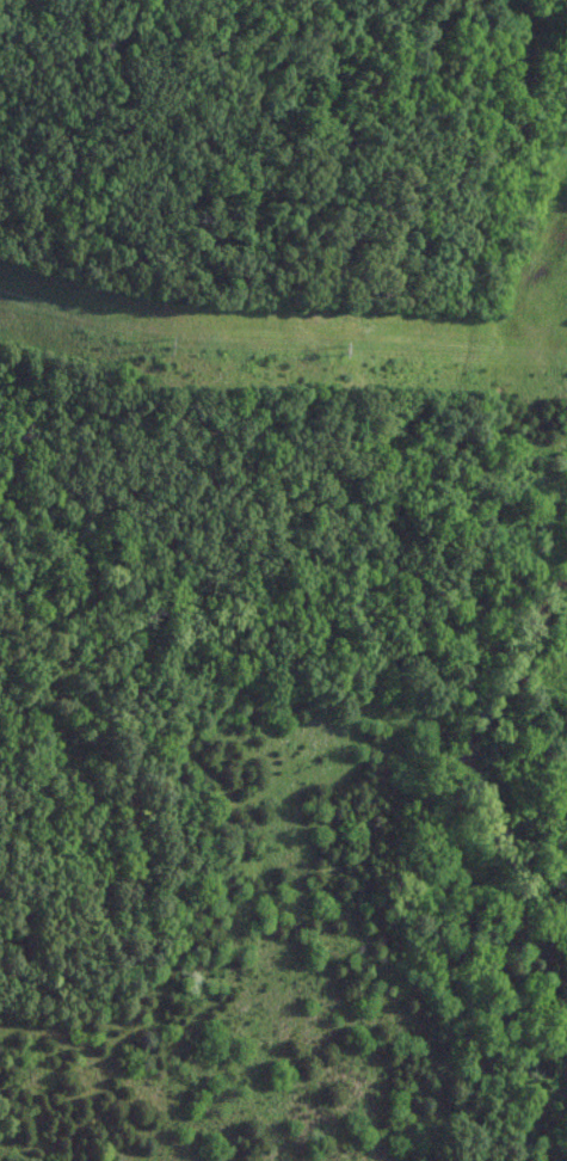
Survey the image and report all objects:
power tower: (154, 342)
power tower: (325, 345)

